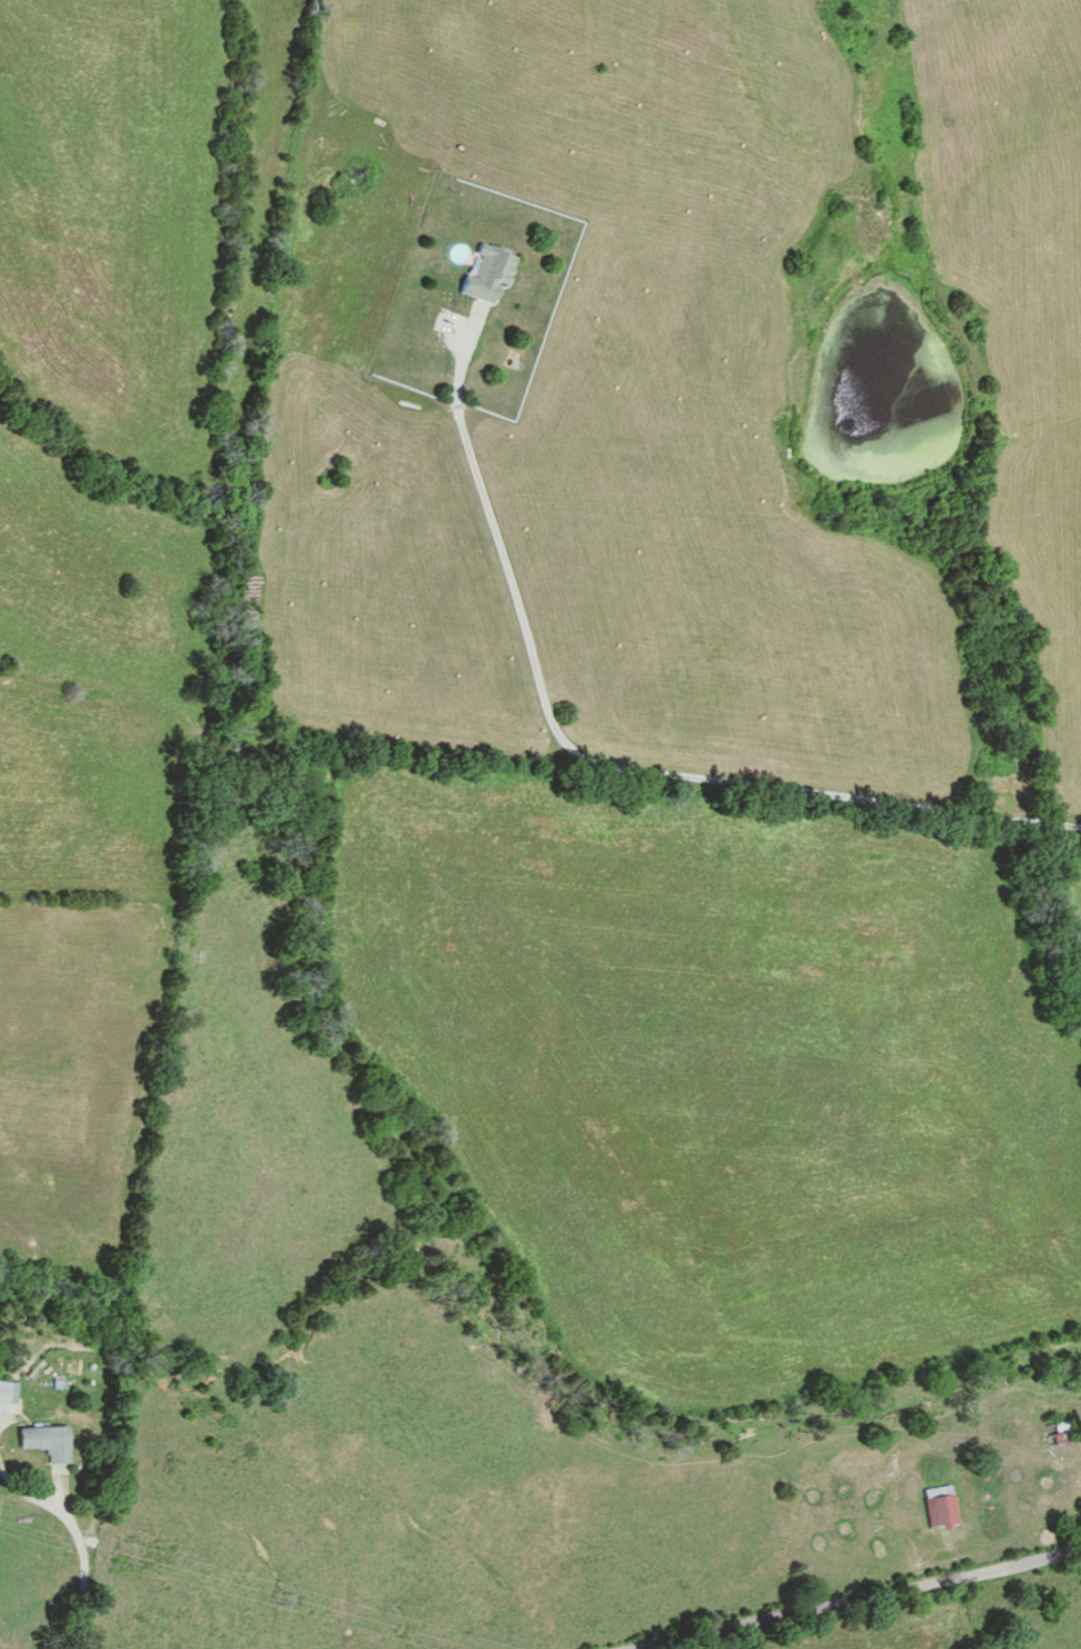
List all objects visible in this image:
building: (490, 272)
road: (101, 1206)
building: (4, 1395)
building: (1059, 1433)
building: (47, 1442)
building: (940, 1507)
road: (863, 1598)

